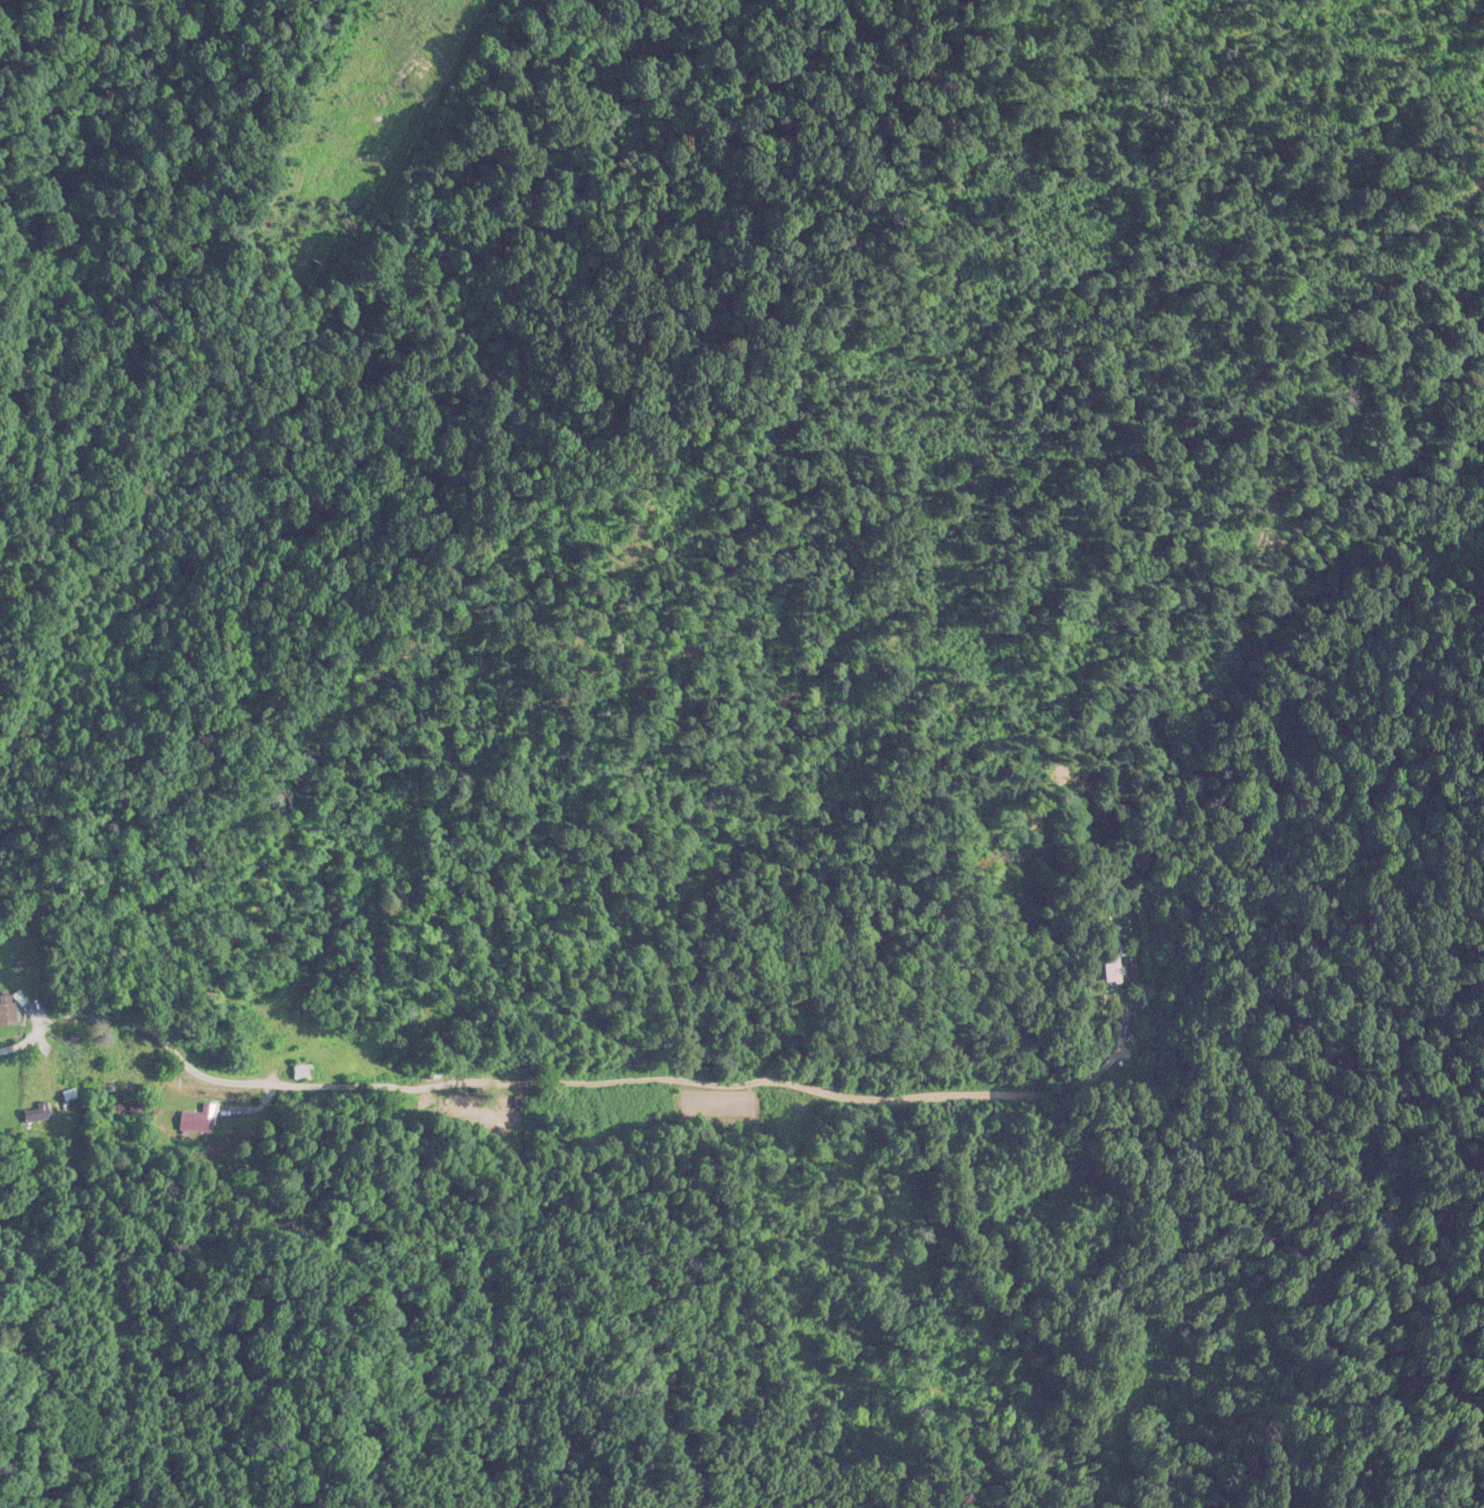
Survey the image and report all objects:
building: (1113, 964)
building: (1134, 999)
building: (7, 1014)
building: (302, 1073)
road: (263, 1085)

